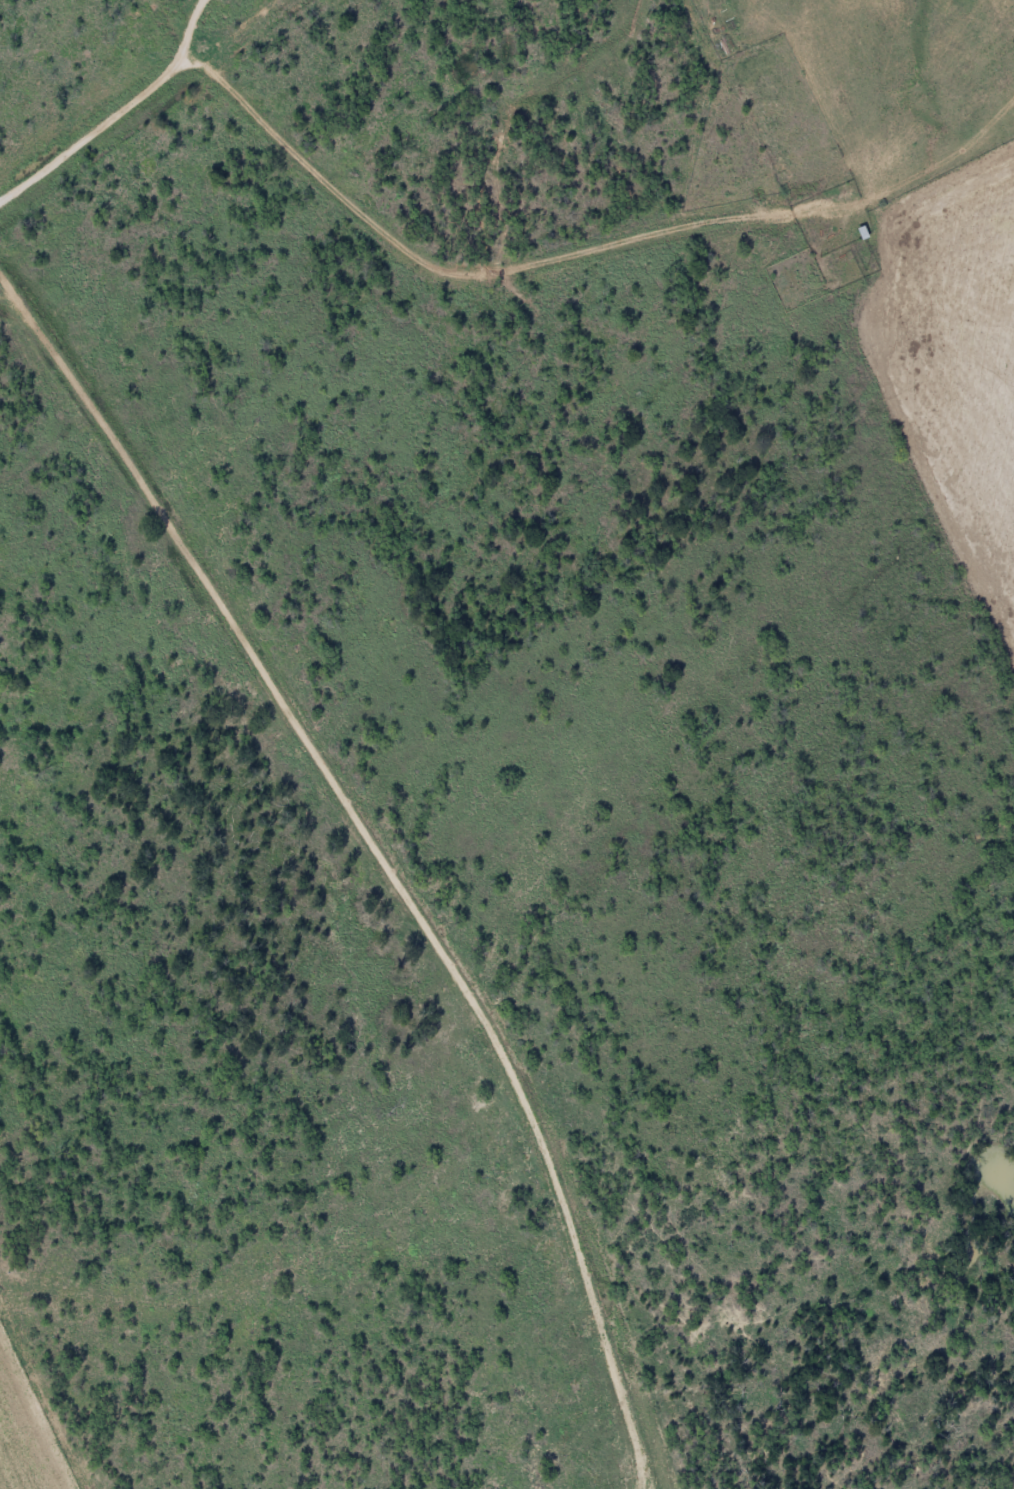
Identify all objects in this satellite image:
road: (206, 4)
railway: (155, 117)
road: (128, 212)
road: (548, 232)
road: (11, 286)
road: (393, 872)

